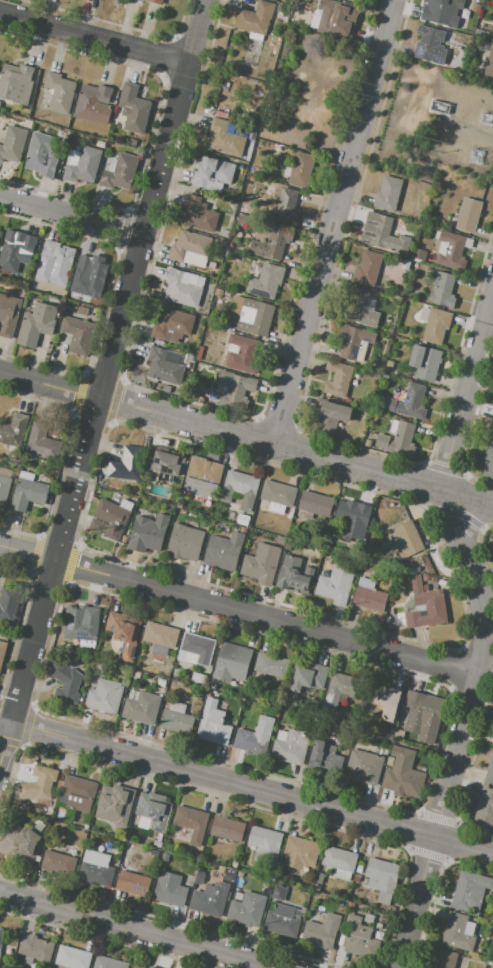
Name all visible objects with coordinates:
building: (138, 0)
building: (351, 0)
building: (157, 1)
building: (478, 2)
building: (476, 7)
building: (438, 9)
building: (255, 18)
building: (336, 18)
building: (492, 36)
road: (93, 37)
building: (430, 44)
building: (489, 65)
building: (17, 83)
building: (60, 92)
building: (93, 102)
building: (0, 103)
building: (133, 108)
power tower: (485, 120)
building: (286, 136)
building: (225, 139)
building: (132, 142)
building: (100, 143)
building: (13, 144)
building: (41, 157)
power tower: (476, 157)
building: (82, 165)
building: (301, 170)
building: (119, 172)
building: (212, 174)
building: (387, 193)
building: (285, 209)
road: (70, 212)
building: (198, 214)
building: (468, 215)
road: (331, 221)
building: (376, 230)
building: (0, 232)
building: (272, 244)
building: (189, 245)
building: (452, 249)
building: (16, 253)
building: (419, 255)
building: (55, 263)
building: (405, 265)
building: (367, 268)
building: (90, 277)
building: (265, 281)
building: (184, 287)
building: (442, 288)
building: (218, 292)
building: (360, 309)
building: (8, 315)
building: (252, 315)
building: (36, 322)
building: (435, 324)
building: (172, 325)
building: (77, 334)
building: (351, 340)
building: (243, 354)
building: (425, 362)
building: (163, 367)
building: (338, 379)
road: (103, 383)
building: (234, 387)
building: (167, 389)
building: (408, 402)
building: (331, 417)
building: (490, 427)
building: (13, 430)
road: (247, 436)
building: (337, 436)
building: (402, 440)
building: (42, 442)
building: (488, 462)
building: (127, 463)
building: (167, 465)
building: (202, 478)
building: (241, 483)
building: (3, 490)
building: (28, 491)
building: (278, 493)
building: (316, 503)
building: (352, 513)
building: (111, 518)
building: (97, 525)
building: (147, 533)
building: (407, 539)
building: (184, 542)
building: (223, 550)
building: (492, 563)
building: (261, 564)
building: (294, 575)
building: (336, 585)
building: (368, 595)
building: (8, 602)
building: (426, 605)
road: (238, 611)
building: (82, 626)
building: (124, 632)
building: (160, 637)
road: (484, 641)
building: (199, 647)
building: (2, 651)
building: (232, 662)
building: (271, 665)
building: (135, 674)
building: (196, 676)
building: (309, 677)
building: (66, 682)
building: (161, 682)
building: (340, 687)
building: (105, 695)
building: (383, 700)
building: (140, 708)
building: (423, 714)
building: (177, 719)
building: (213, 724)
building: (398, 734)
building: (255, 736)
building: (290, 746)
building: (324, 758)
building: (364, 767)
building: (489, 770)
building: (404, 777)
building: (38, 784)
road: (246, 785)
building: (78, 793)
building: (115, 806)
building: (485, 807)
building: (154, 810)
building: (191, 822)
building: (227, 828)
building: (24, 842)
building: (158, 843)
building: (265, 844)
building: (300, 852)
building: (153, 853)
building: (165, 857)
building: (339, 859)
building: (58, 862)
building: (234, 864)
building: (96, 867)
building: (214, 874)
building: (229, 874)
building: (199, 877)
building: (382, 878)
building: (133, 883)
building: (170, 889)
building: (469, 891)
building: (278, 893)
building: (211, 898)
building: (247, 909)
building: (369, 918)
building: (282, 920)
building: (379, 926)
road: (139, 929)
building: (458, 931)
building: (321, 932)
building: (378, 934)
building: (0, 935)
building: (358, 938)
building: (35, 947)
building: (72, 957)
building: (445, 959)
building: (109, 962)
building: (138, 966)

